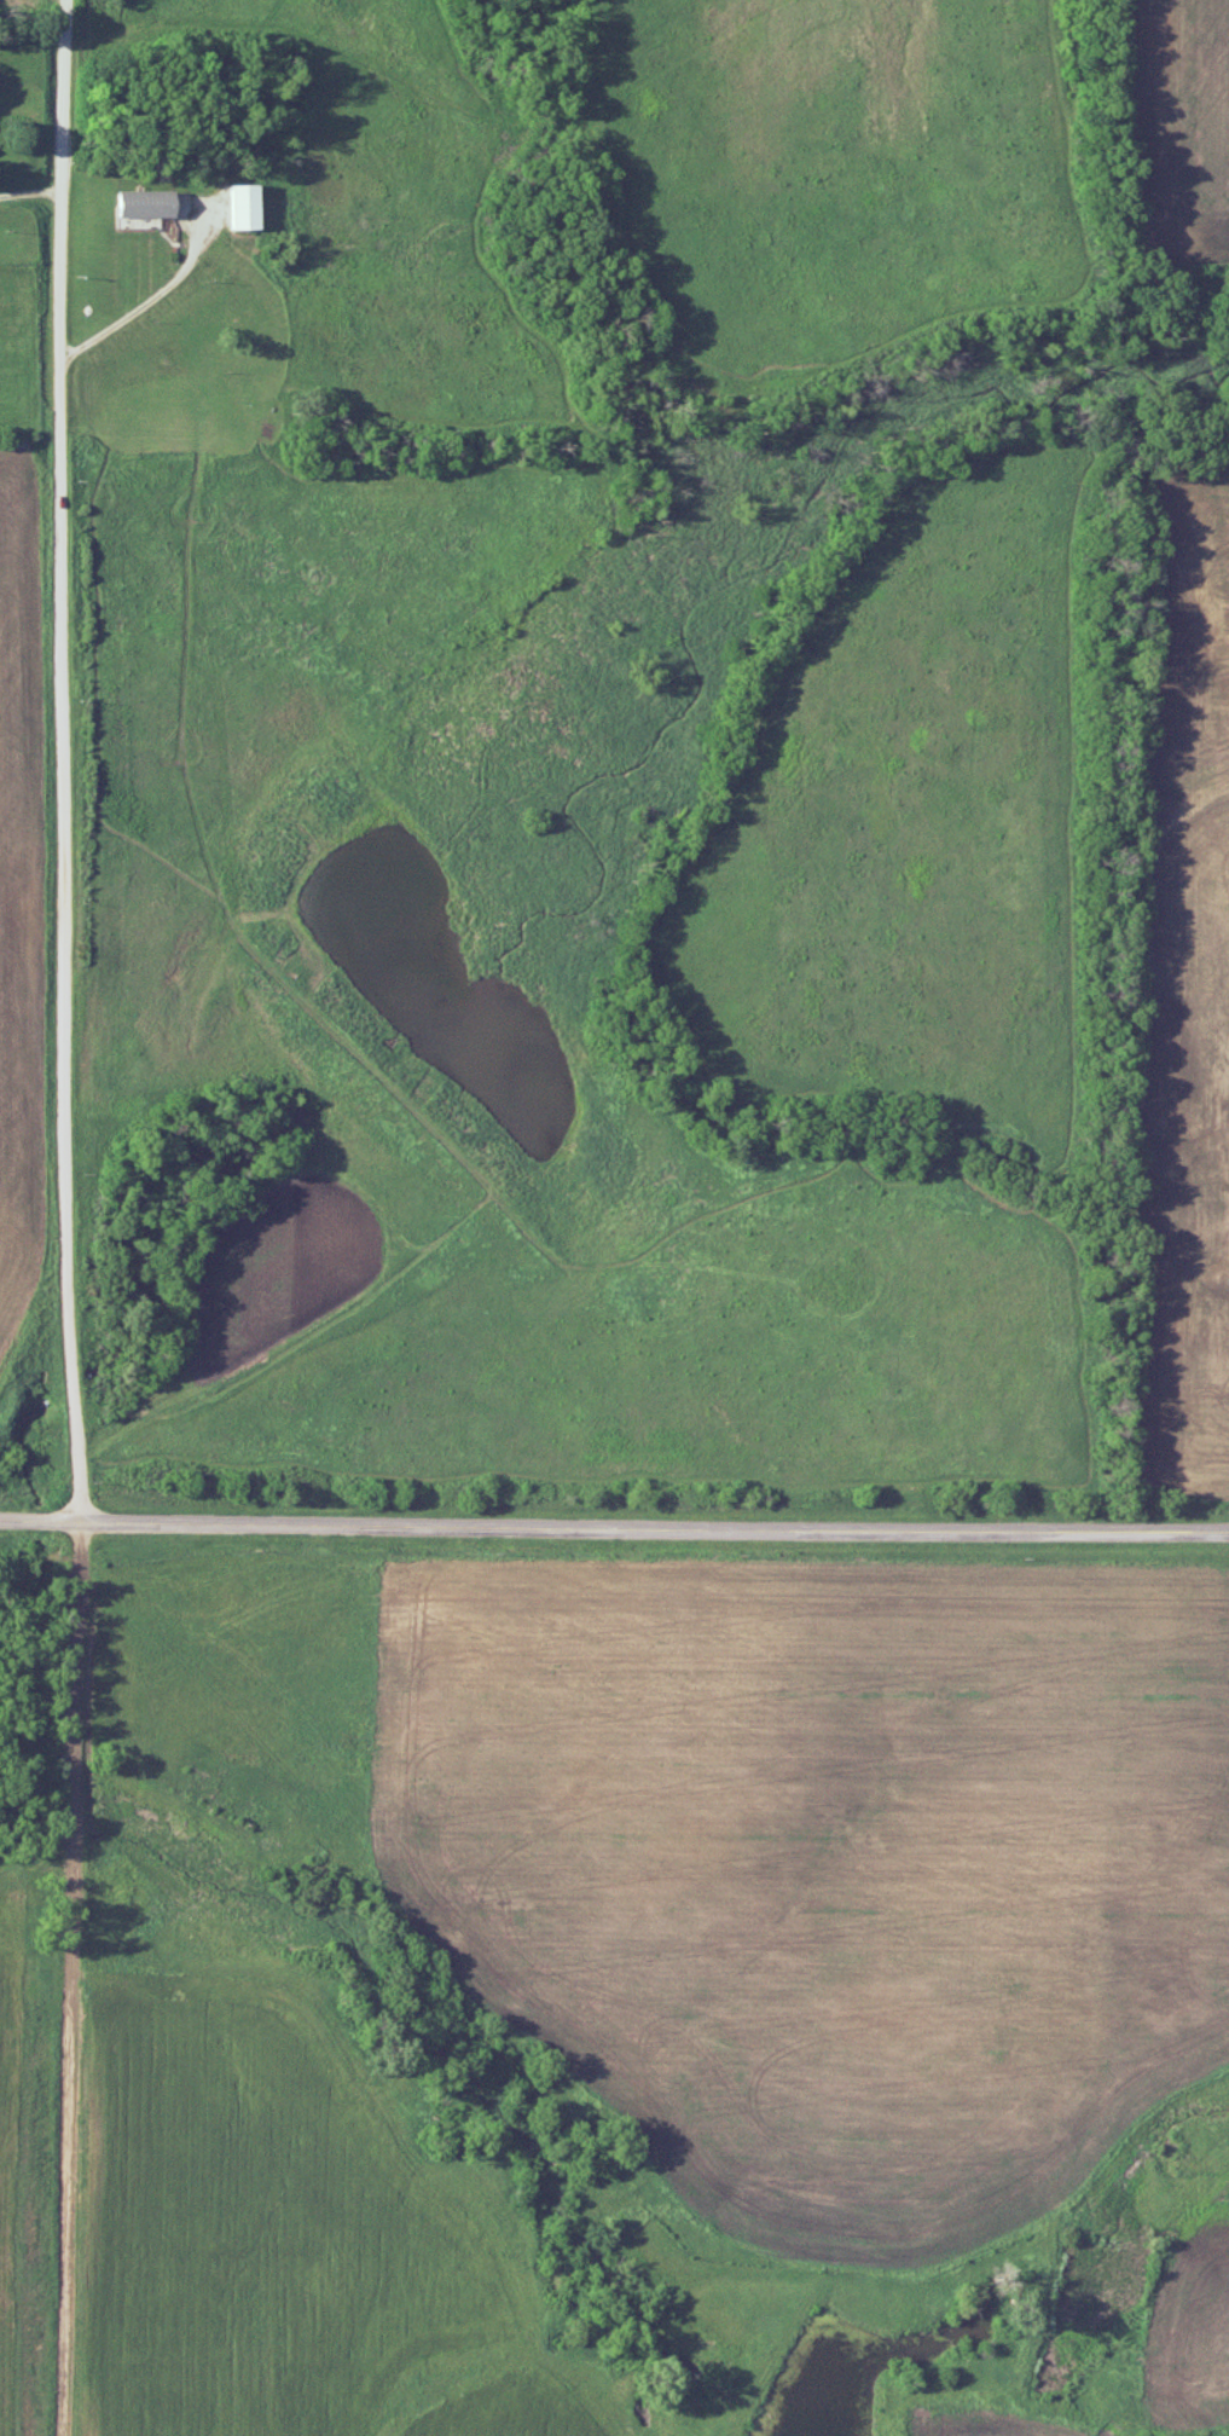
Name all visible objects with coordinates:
road: (31, 191)
building: (144, 202)
building: (242, 204)
road: (156, 293)
road: (70, 1217)
road: (614, 1528)
building: (240, 1755)

